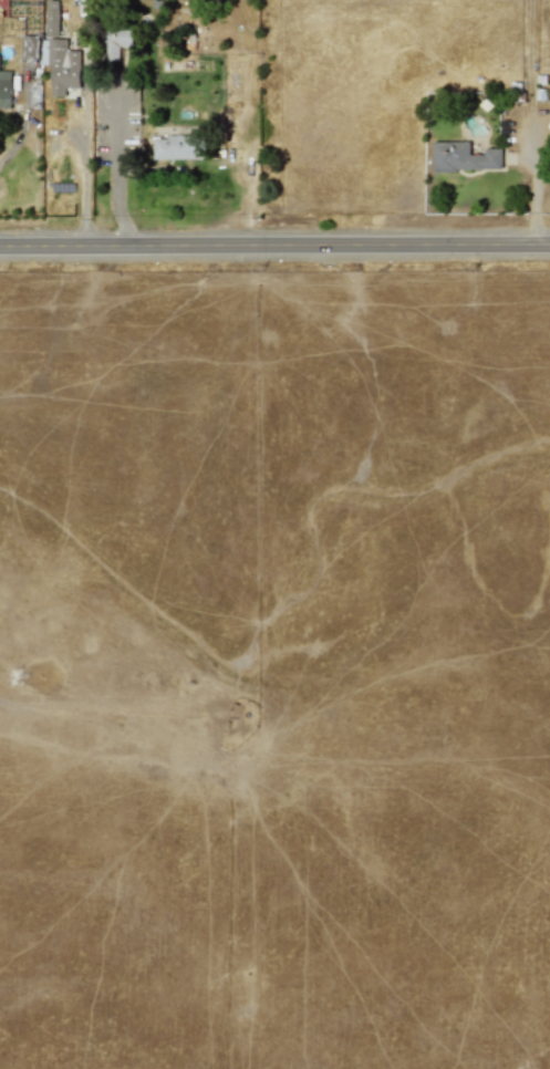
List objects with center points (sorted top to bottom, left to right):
building: (51, 18)
building: (114, 42)
building: (29, 46)
building: (61, 65)
building: (4, 90)
road: (531, 121)
road: (111, 126)
road: (14, 144)
building: (177, 147)
building: (463, 157)
road: (85, 188)
road: (112, 204)
road: (274, 241)

